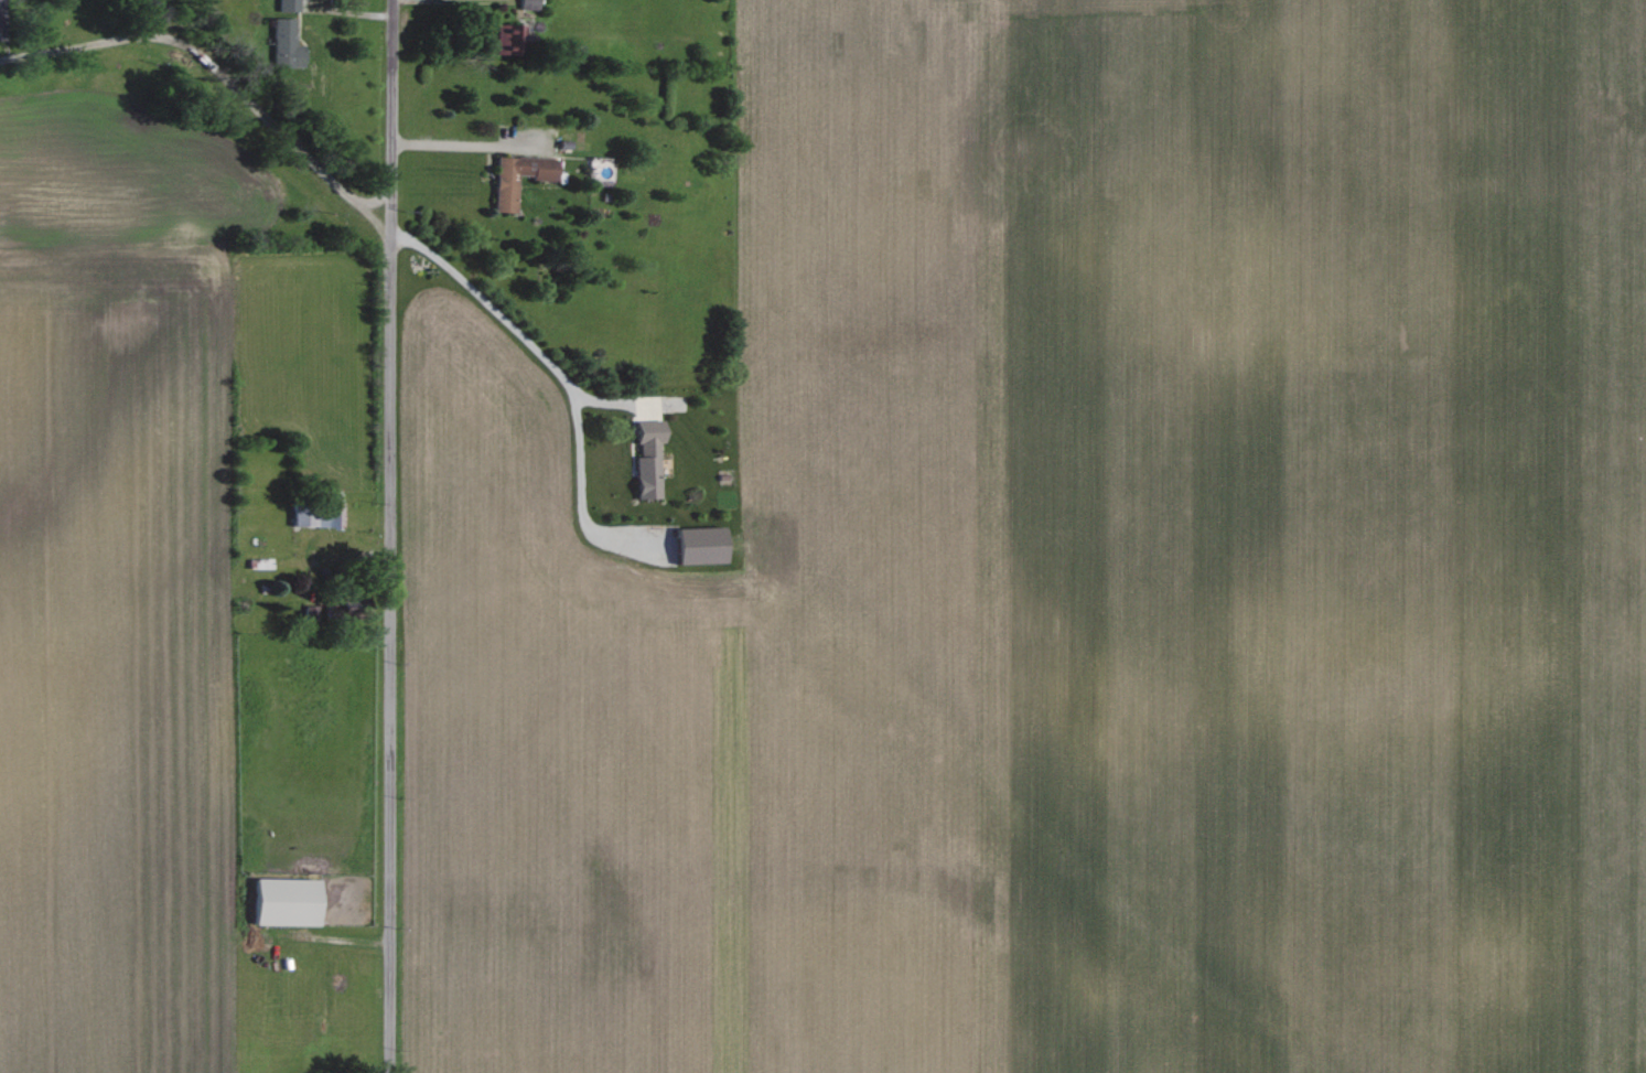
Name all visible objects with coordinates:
building: (290, 4)
building: (530, 4)
road: (349, 12)
building: (1, 31)
building: (512, 39)
building: (288, 44)
road: (216, 67)
road: (448, 144)
building: (519, 176)
road: (510, 326)
building: (650, 457)
building: (315, 517)
road: (385, 536)
building: (703, 546)
building: (289, 902)

